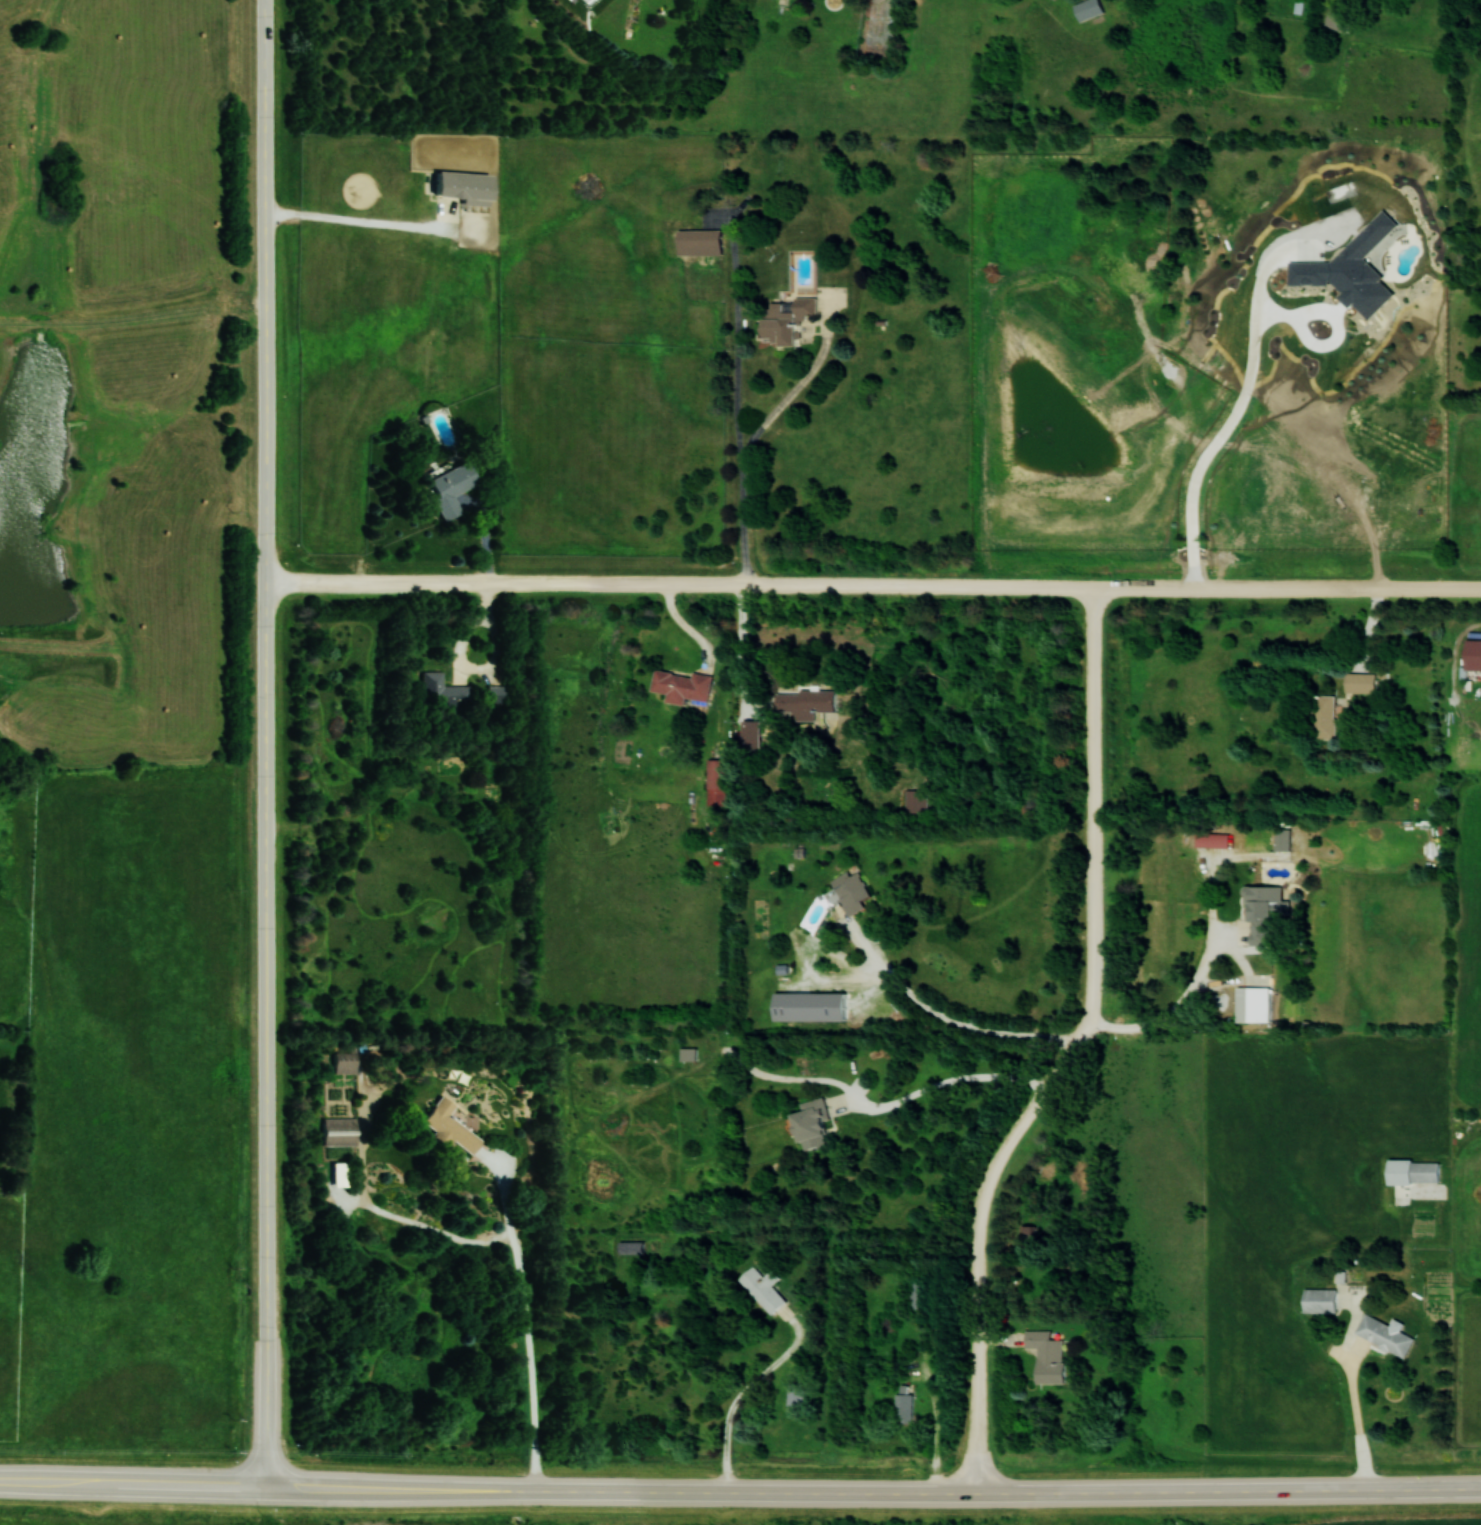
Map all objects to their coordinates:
building: (1338, 20)
building: (465, 187)
road: (366, 221)
building: (703, 242)
building: (788, 320)
road: (798, 387)
road: (737, 403)
road: (1235, 417)
building: (453, 488)
road: (874, 584)
road: (743, 642)
building: (1472, 654)
building: (1361, 682)
building: (685, 687)
building: (443, 692)
building: (497, 694)
building: (808, 705)
building: (755, 737)
road: (267, 742)
building: (719, 782)
building: (920, 800)
building: (855, 890)
building: (815, 1006)
road: (1169, 1013)
road: (977, 1030)
road: (1069, 1050)
building: (692, 1054)
building: (346, 1062)
road: (943, 1083)
building: (817, 1123)
building: (450, 1125)
building: (341, 1132)
building: (1412, 1171)
road: (512, 1235)
building: (633, 1247)
building: (766, 1288)
building: (923, 1293)
building: (942, 1332)
building: (1384, 1334)
building: (1046, 1355)
road: (741, 1394)
building: (799, 1395)
building: (908, 1407)
road: (1358, 1412)
road: (937, 1434)
road: (740, 1492)

